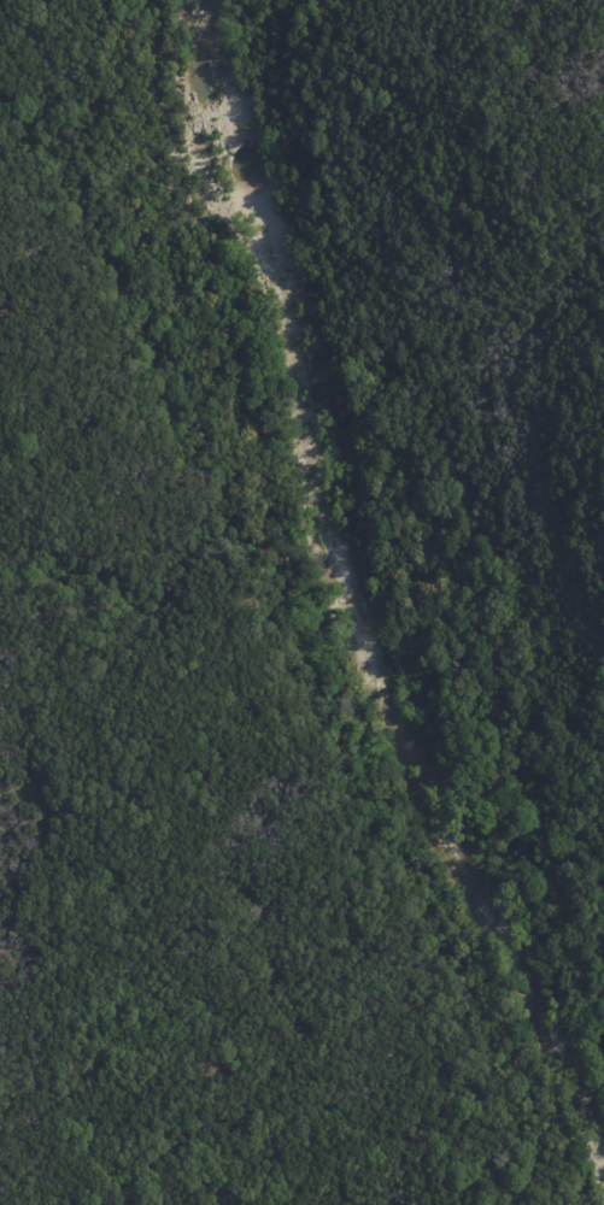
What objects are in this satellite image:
road: (351, 370)
park: (341, 512)
road: (313, 609)
road: (494, 666)

